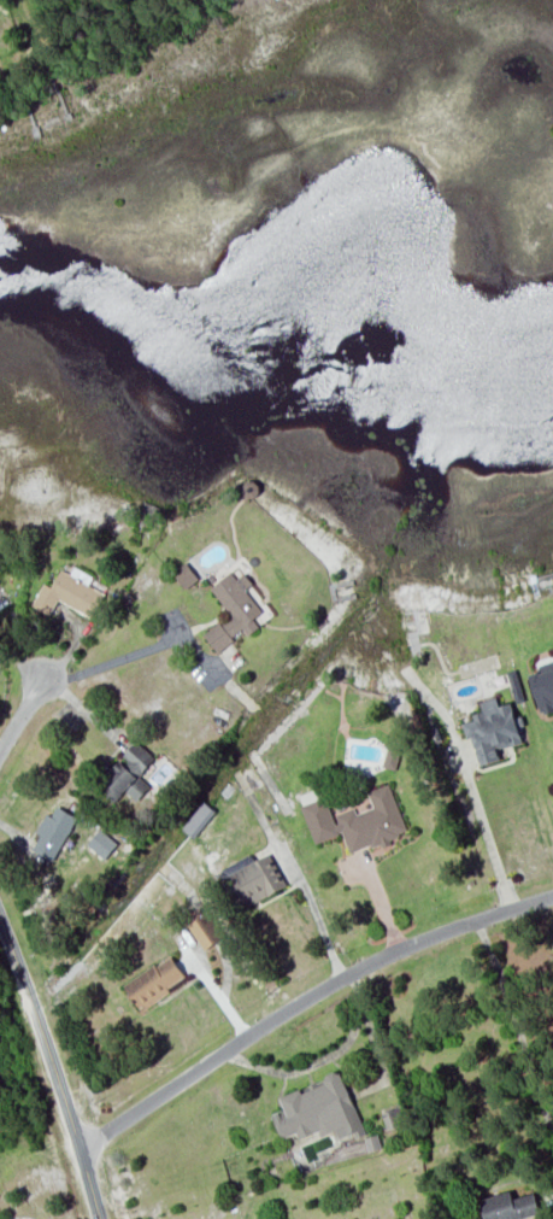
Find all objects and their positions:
building: (184, 574)
building: (69, 593)
building: (234, 609)
building: (543, 691)
road: (35, 697)
building: (493, 728)
building: (129, 772)
building: (198, 819)
building: (357, 820)
building: (53, 832)
road: (487, 833)
building: (255, 880)
road: (384, 904)
road: (319, 920)
building: (206, 930)
building: (154, 980)
road: (305, 998)
road: (514, 1022)
road: (54, 1065)
building: (319, 1109)
building: (510, 1206)

